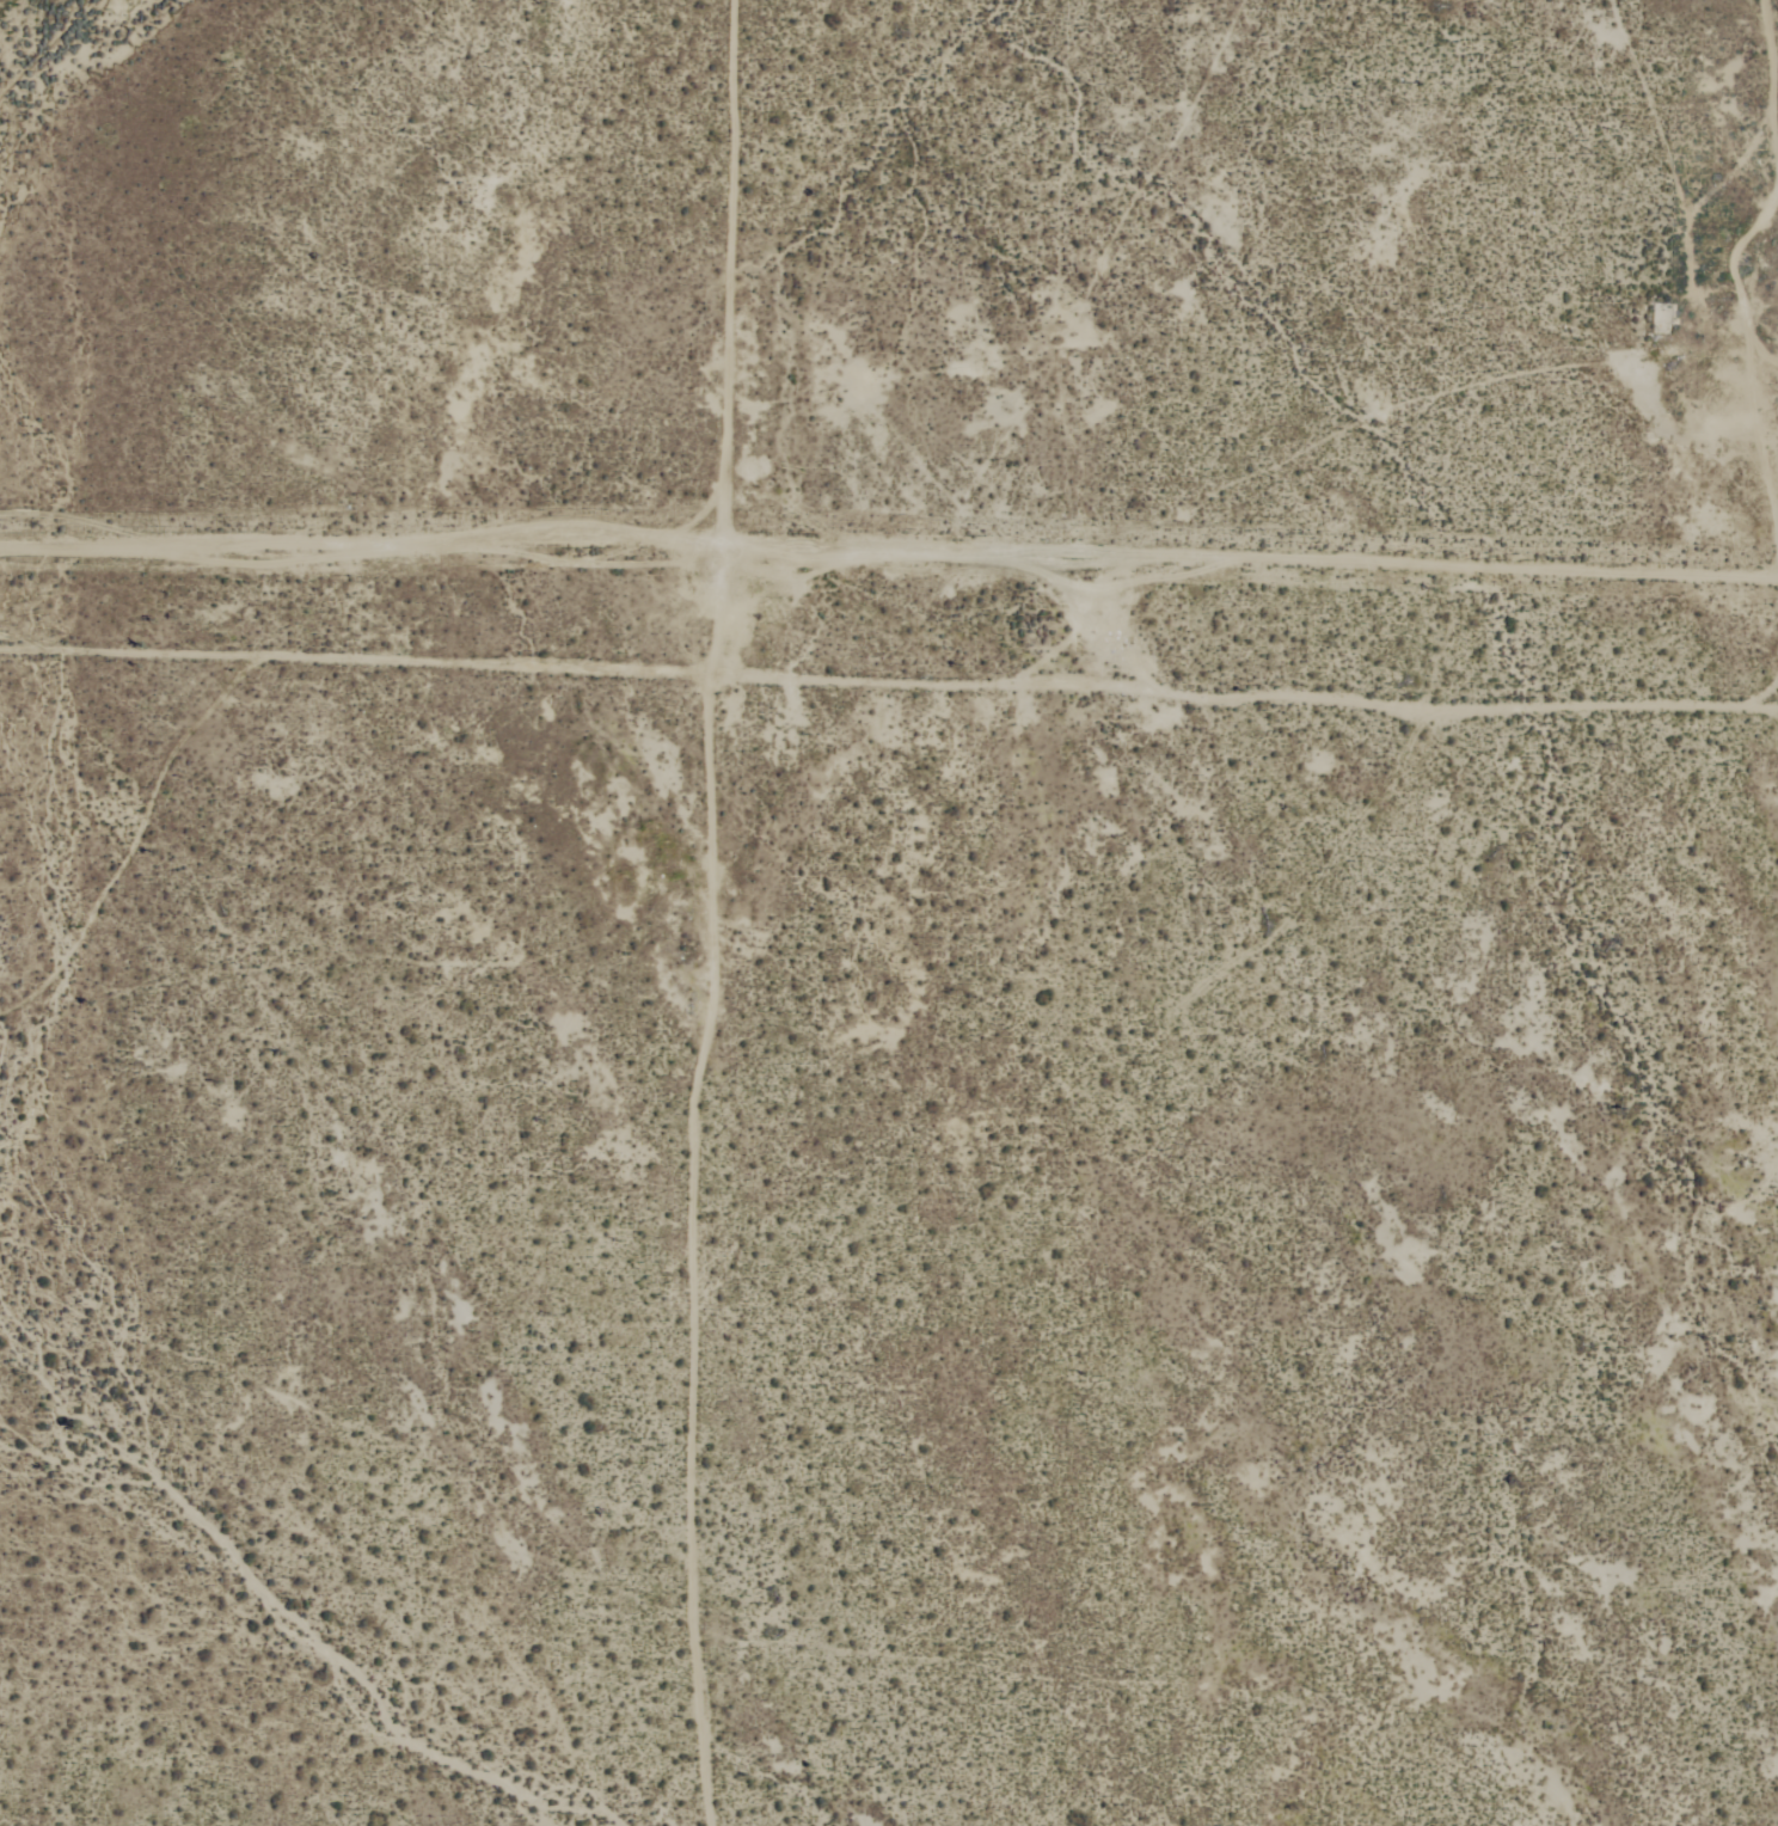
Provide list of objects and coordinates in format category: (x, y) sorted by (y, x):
road: (726, 337)
road: (889, 681)

